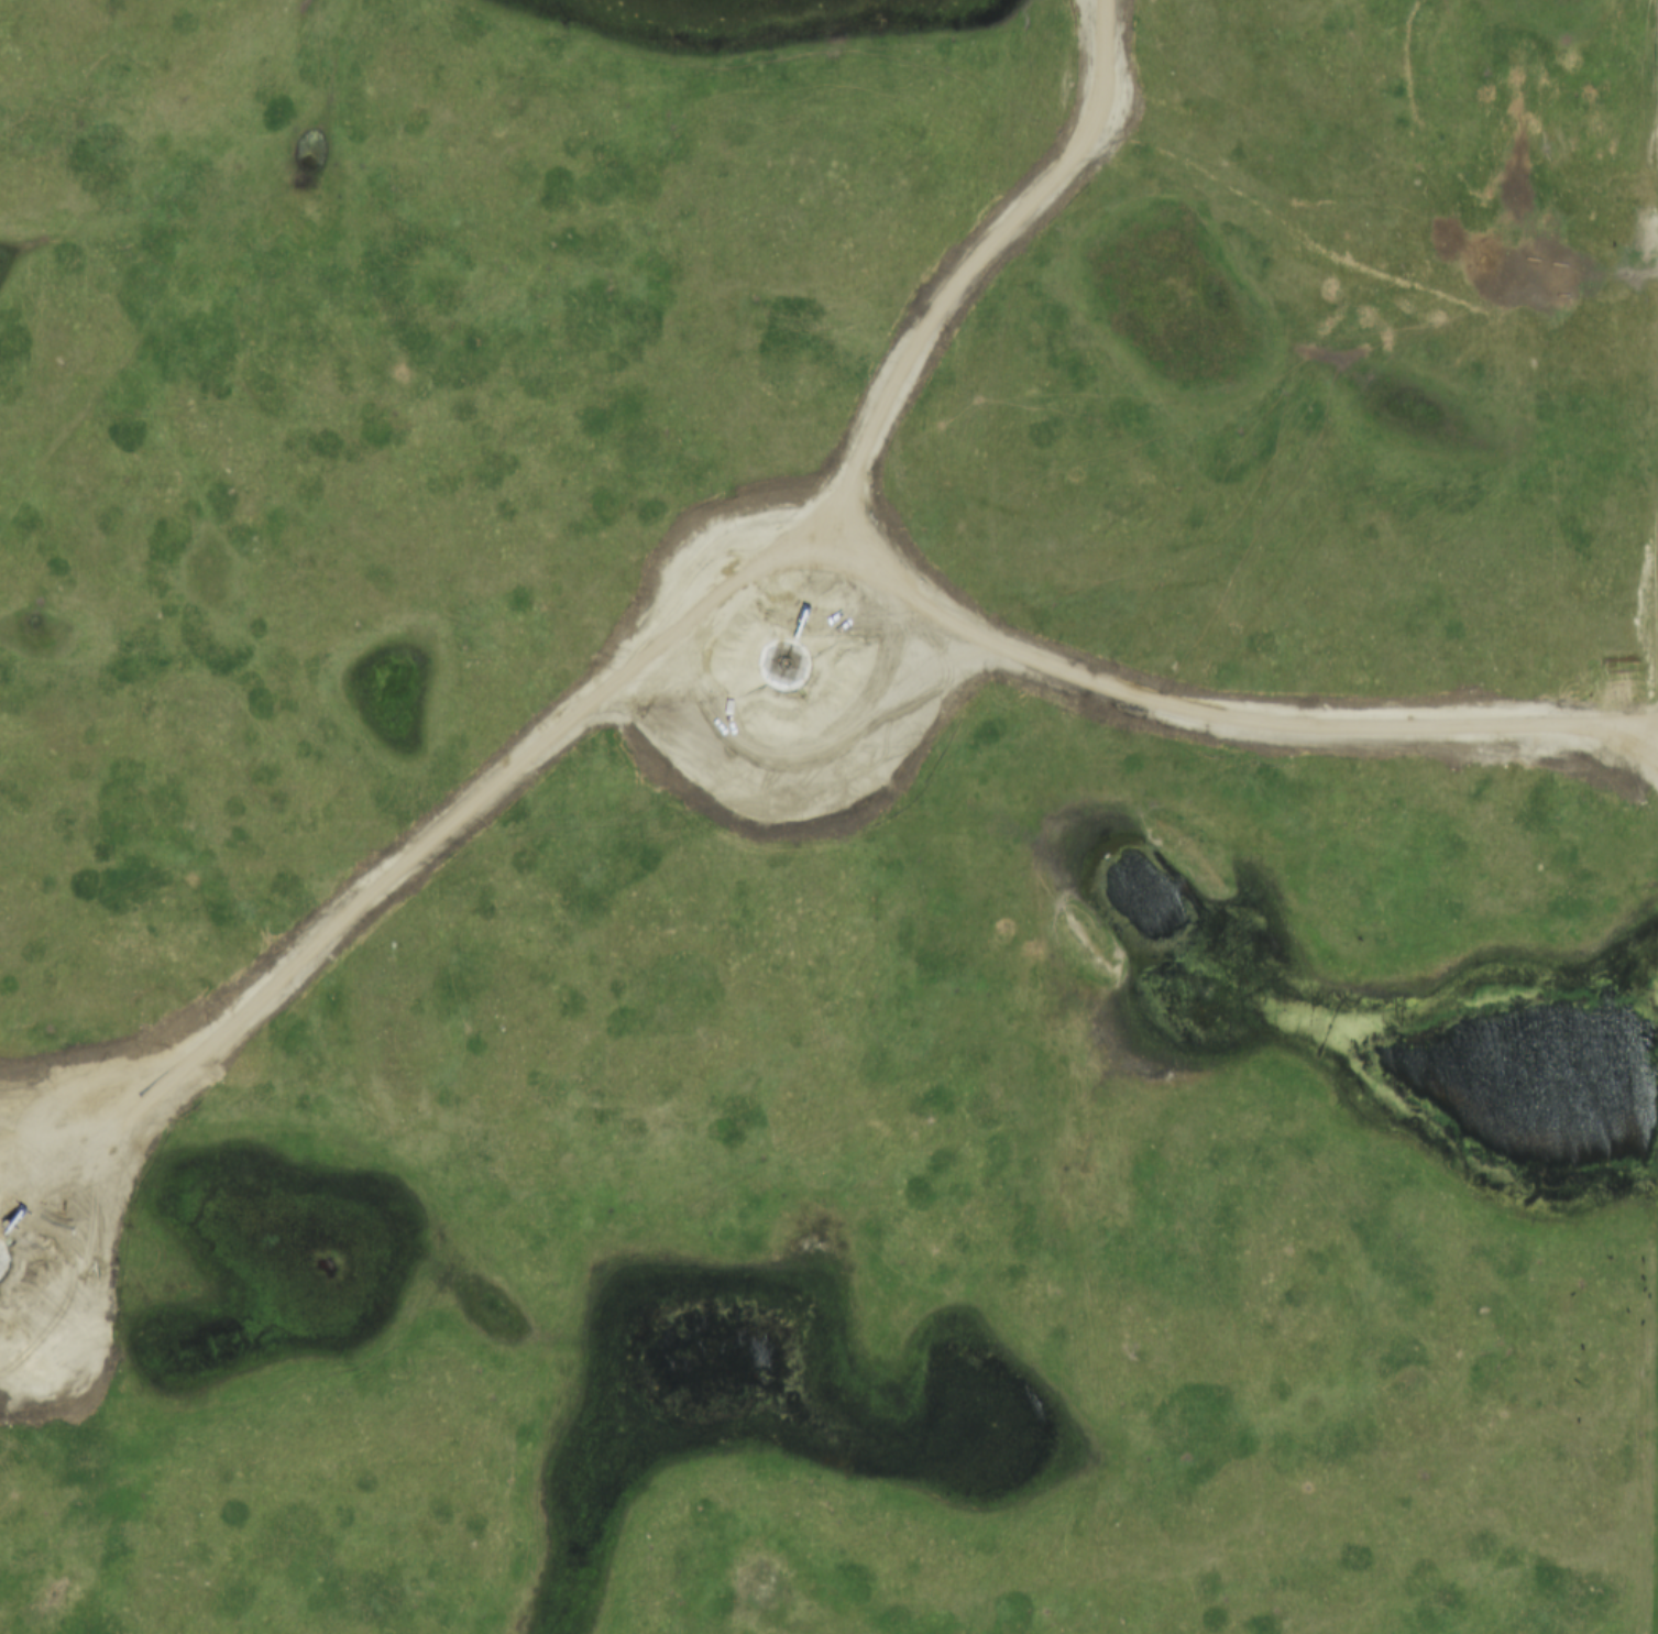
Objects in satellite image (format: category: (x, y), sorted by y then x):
wind turbine: (786, 665)

